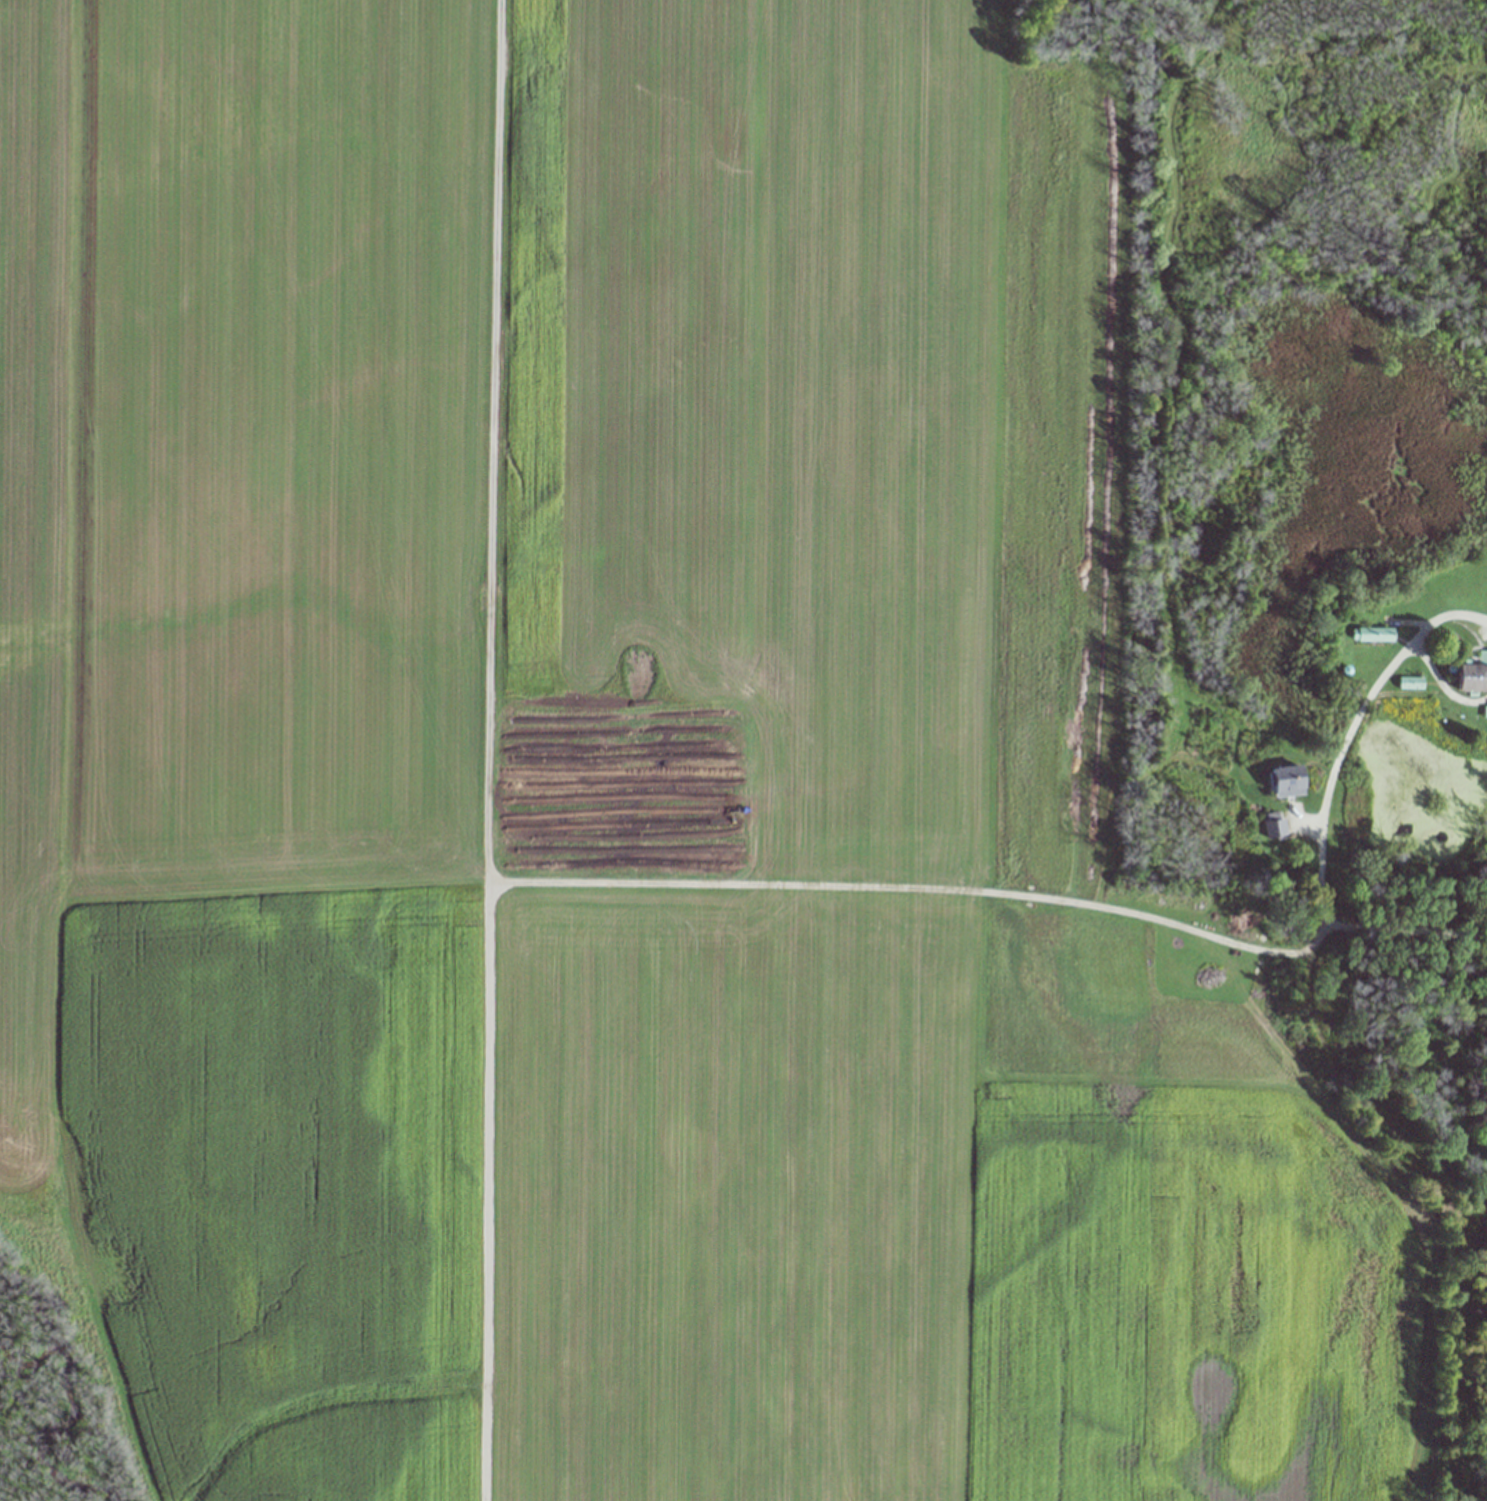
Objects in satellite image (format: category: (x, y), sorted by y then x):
building: (1370, 633)
building: (1469, 674)
road: (1440, 682)
building: (1280, 780)
road: (1324, 805)
building: (1271, 824)

